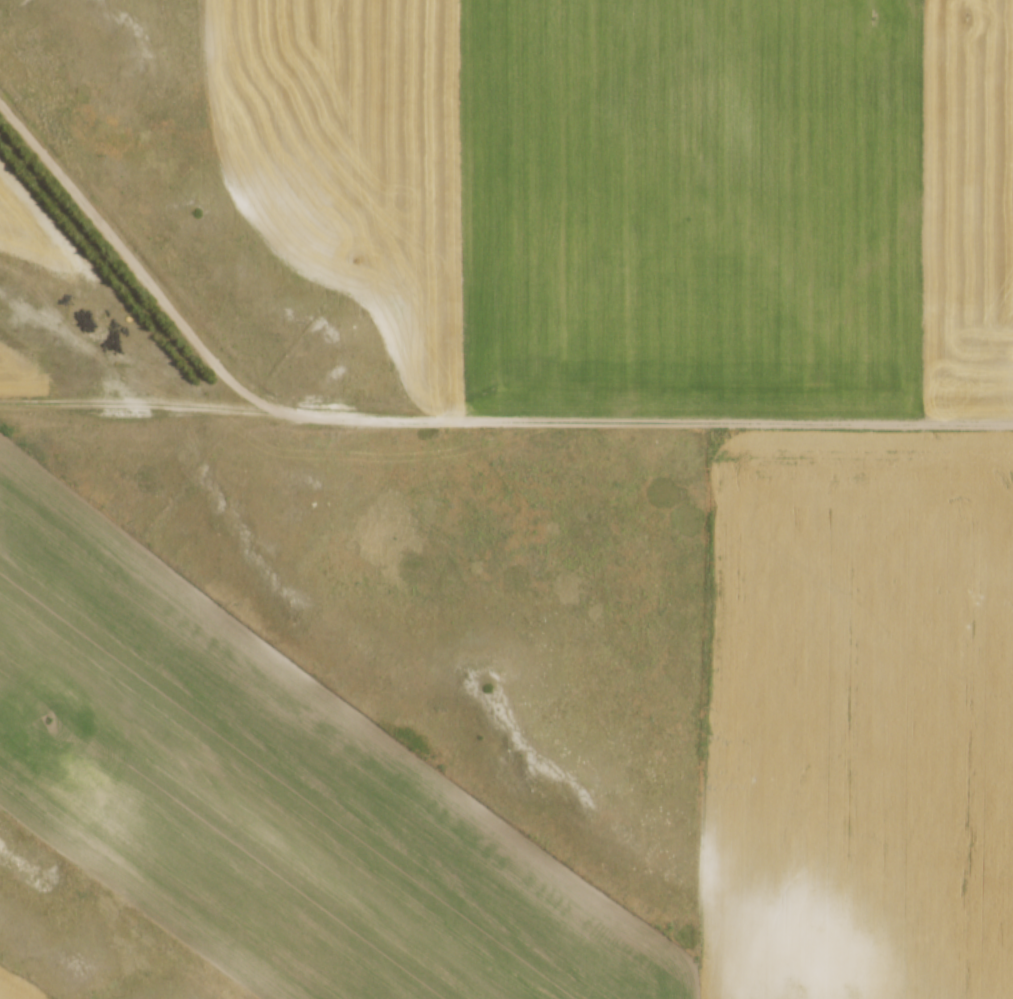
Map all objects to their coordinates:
road: (436, 421)

